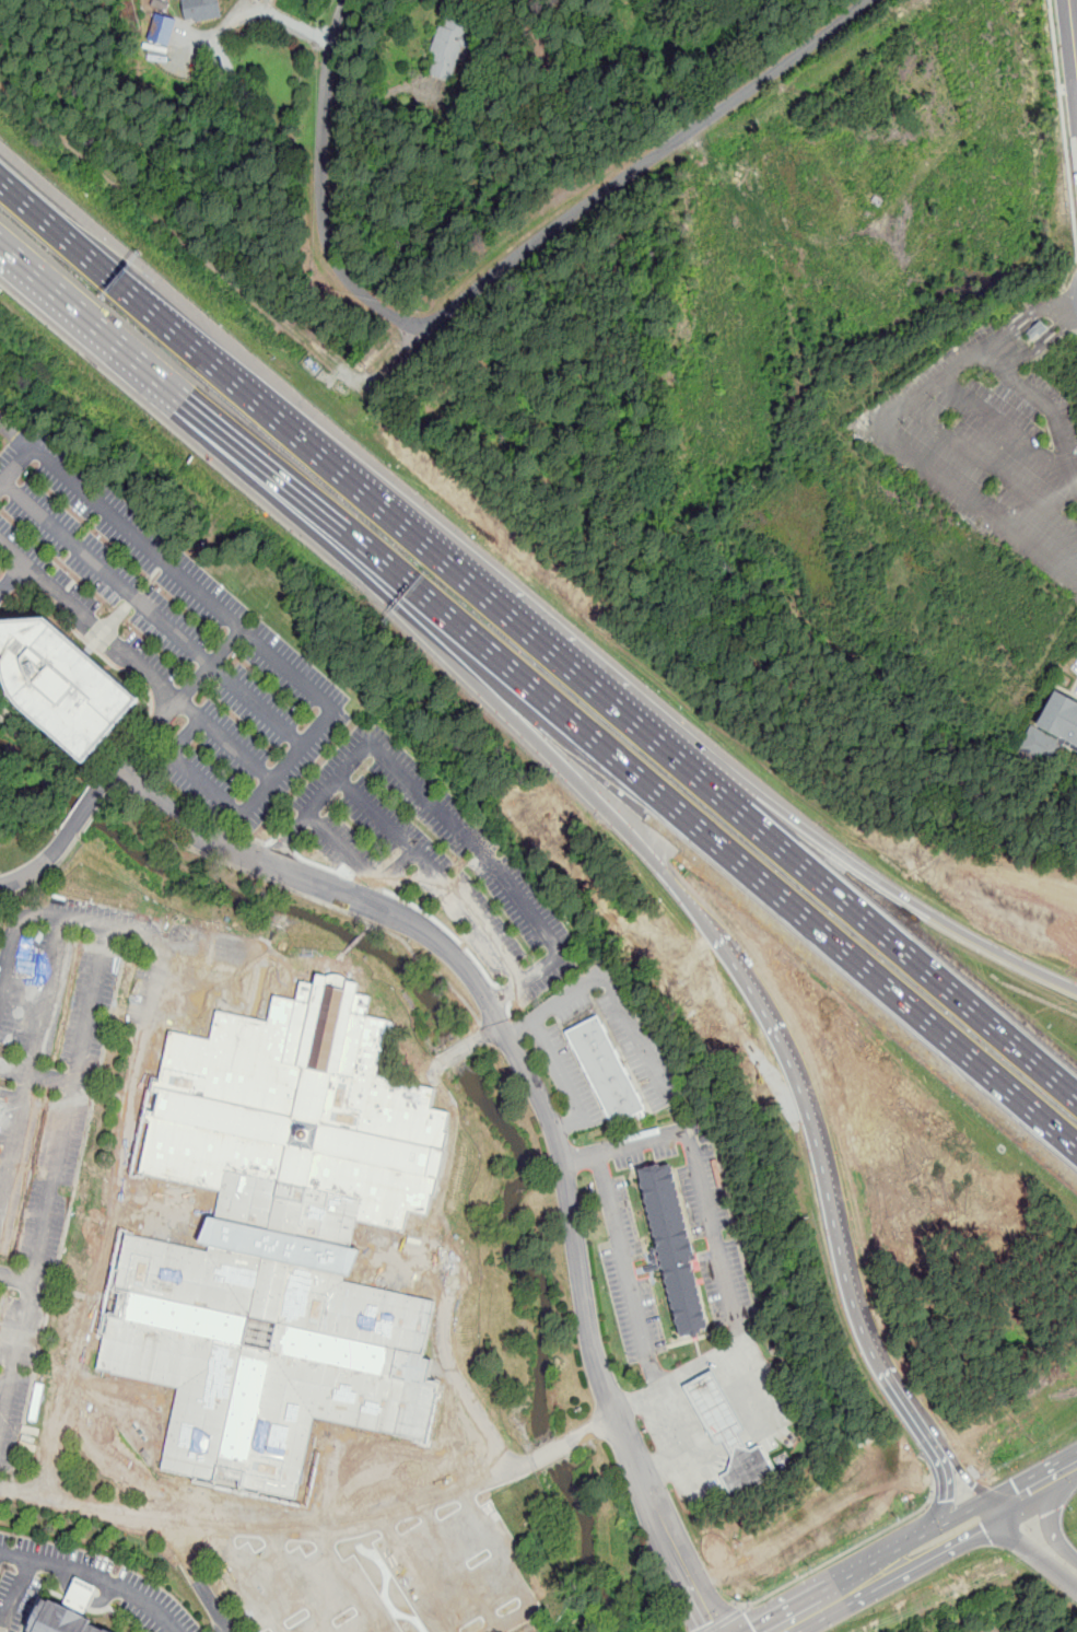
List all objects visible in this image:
building: (201, 10)
road: (283, 16)
building: (162, 30)
road: (1074, 30)
building: (449, 46)
road: (1068, 88)
road: (1064, 130)
road: (489, 276)
road: (154, 304)
road: (1022, 319)
road: (1040, 348)
road: (889, 415)
road: (1004, 427)
road: (15, 432)
parking lot: (990, 445)
road: (991, 467)
road: (13, 578)
road: (188, 582)
road: (526, 625)
road: (171, 626)
parking lot: (168, 633)
parking lot: (1075, 666)
building: (66, 681)
road: (305, 684)
parking lot: (1076, 692)
road: (535, 700)
road: (208, 722)
building: (1051, 728)
building: (1076, 749)
road: (382, 755)
road: (108, 778)
road: (85, 811)
road: (285, 839)
parking lot: (433, 855)
road: (38, 865)
road: (682, 897)
road: (906, 901)
road: (471, 911)
road: (370, 925)
road: (167, 940)
road: (908, 949)
parking lot: (107, 977)
road: (610, 981)
road: (154, 983)
parking lot: (625, 1034)
road: (30, 1056)
road: (522, 1066)
building: (602, 1069)
road: (37, 1073)
parking lot: (569, 1077)
road: (562, 1081)
road: (70, 1103)
road: (695, 1171)
parking lot: (699, 1213)
parking lot: (30, 1235)
building: (282, 1239)
building: (671, 1247)
road: (95, 1260)
road: (628, 1272)
road: (16, 1274)
parking lot: (629, 1275)
road: (443, 1328)
road: (737, 1342)
road: (16, 1354)
road: (707, 1365)
road: (904, 1406)
road: (599, 1424)
road: (756, 1429)
building: (727, 1435)
road: (733, 1444)
road: (559, 1447)
road: (684, 1469)
road: (1065, 1469)
road: (962, 1472)
road: (1026, 1491)
road: (946, 1492)
traffic signals: (945, 1502)
traffic signals: (997, 1507)
road: (270, 1534)
road: (1033, 1548)
road: (915, 1551)
road: (840, 1557)
parking lot: (379, 1565)
road: (460, 1567)
road: (511, 1571)
road: (95, 1576)
road: (414, 1577)
road: (199, 1579)
road: (248, 1581)
parking lot: (122, 1582)
road: (302, 1583)
road: (347, 1584)
road: (14, 1593)
road: (696, 1597)
building: (70, 1611)
road: (800, 1613)
road: (728, 1619)

